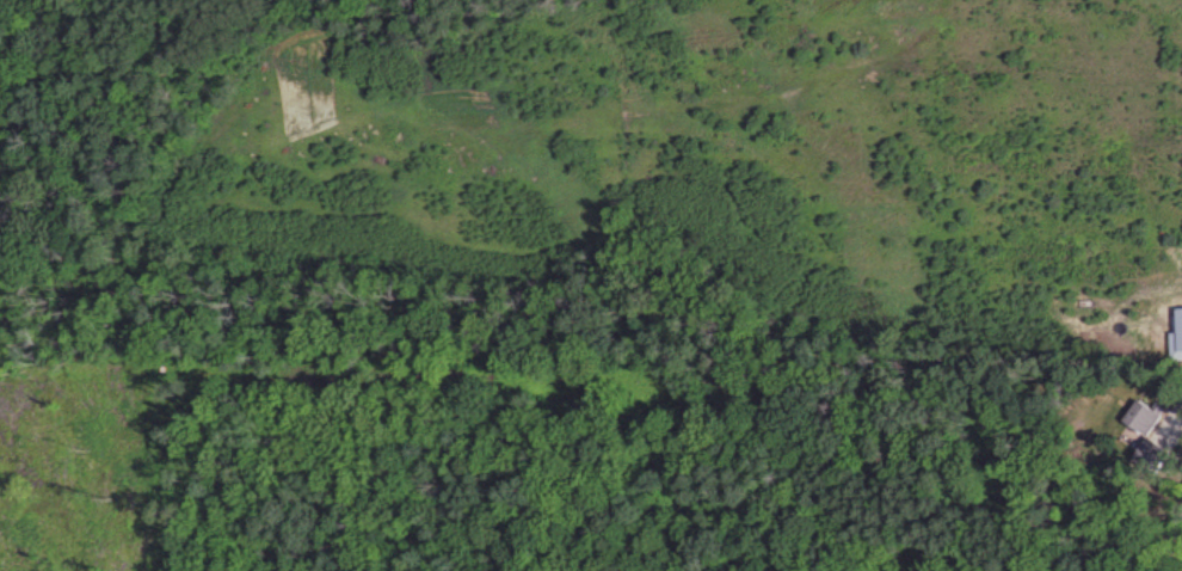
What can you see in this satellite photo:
building: (1151, 415)

